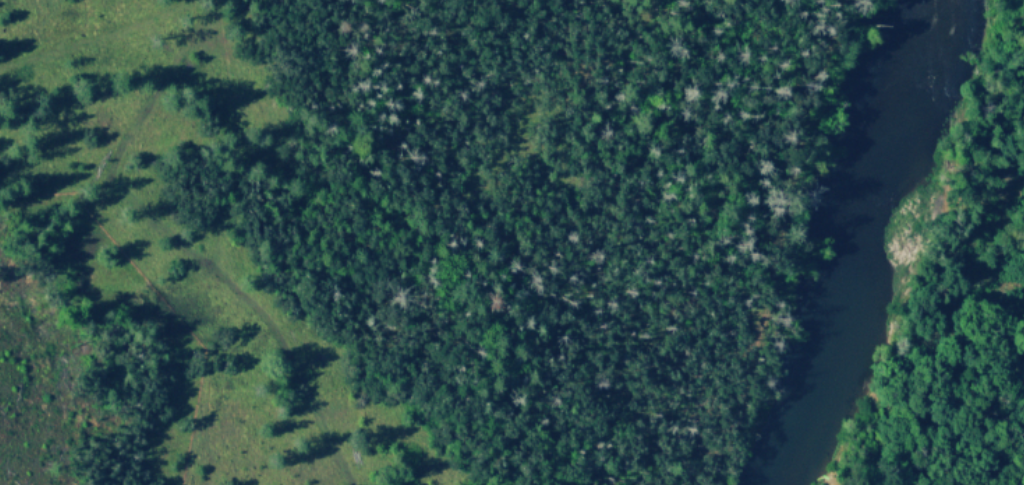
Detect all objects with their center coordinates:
river: (862, 247)

